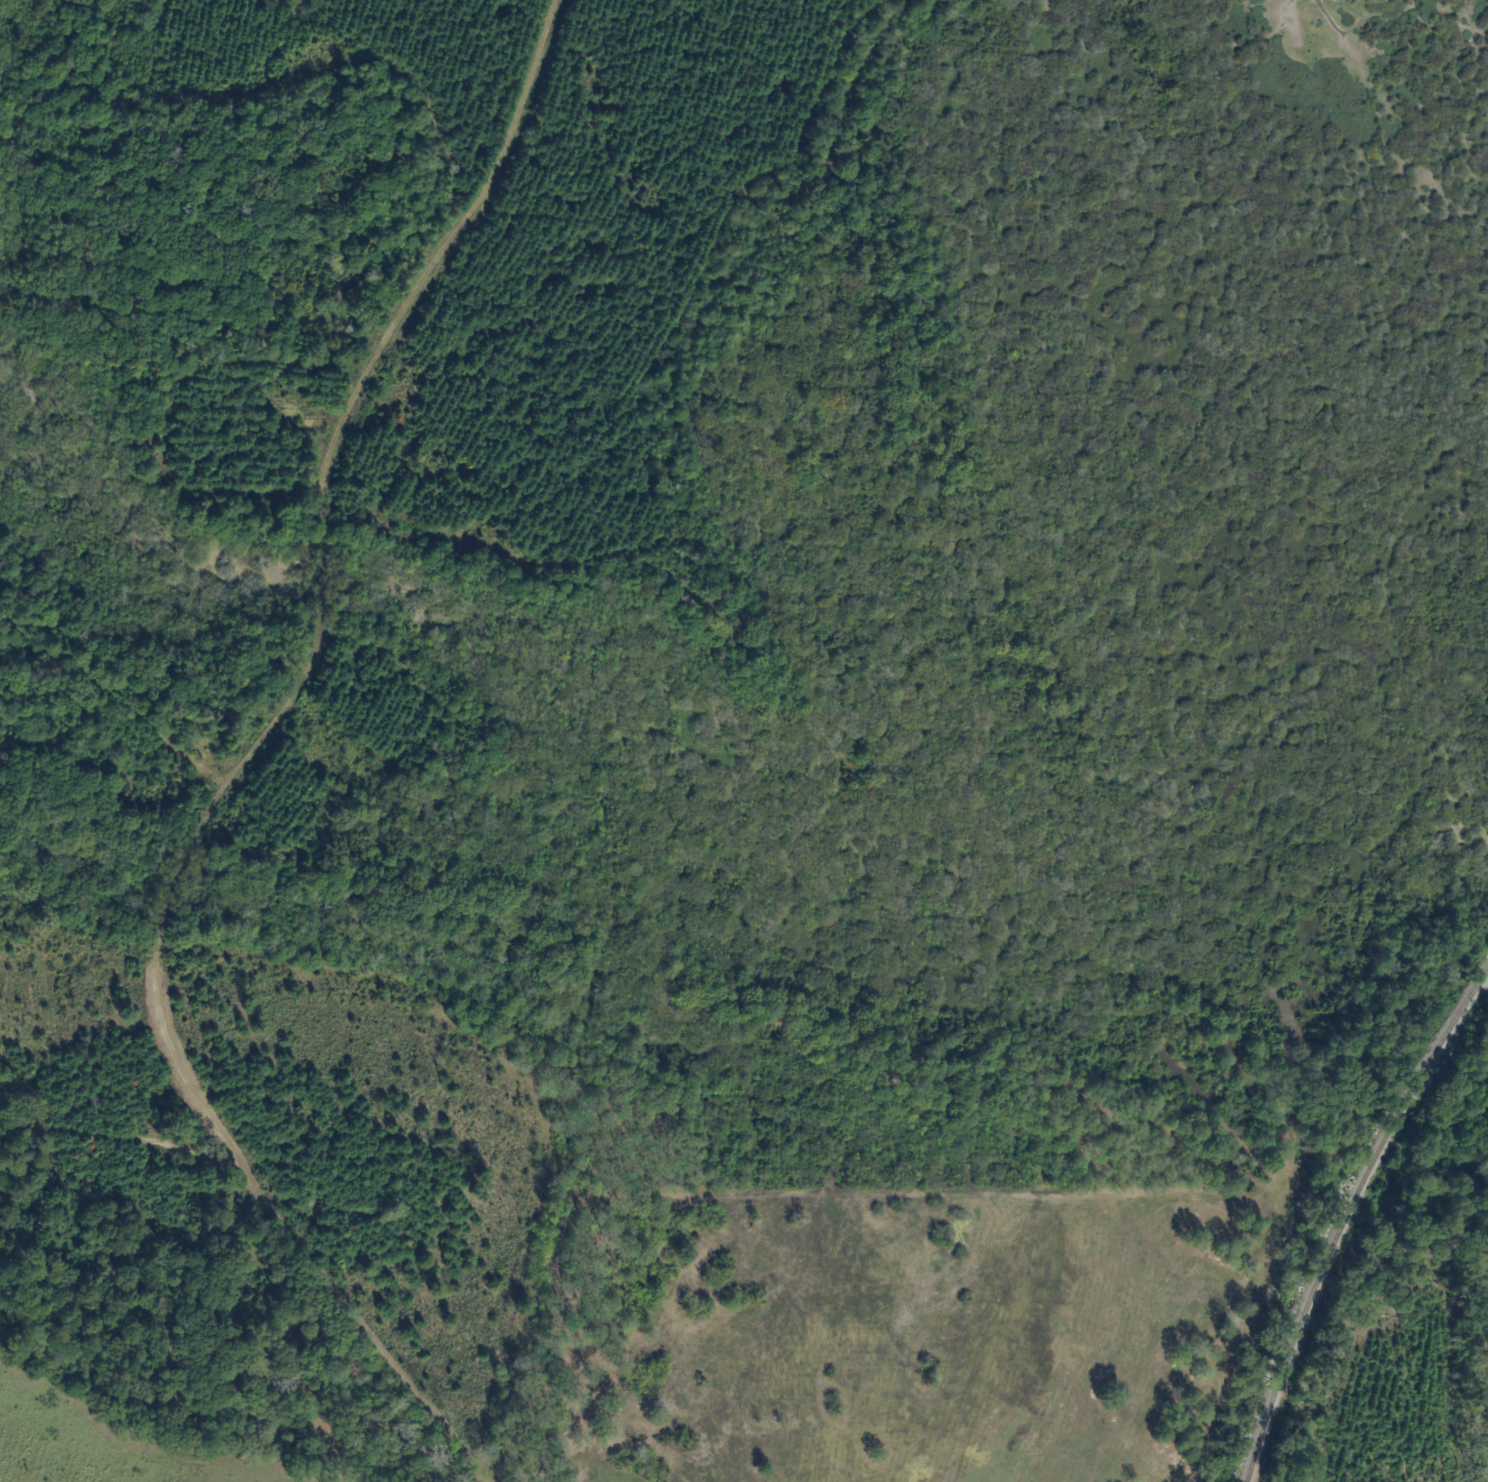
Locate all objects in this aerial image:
railway: (1350, 1216)

